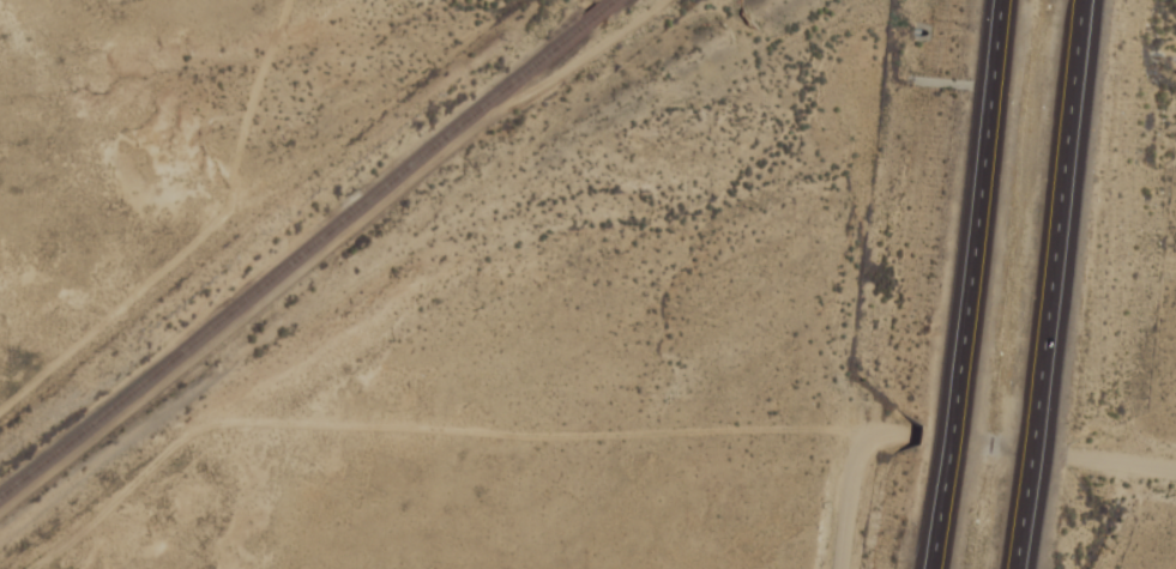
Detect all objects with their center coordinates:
railway: (609, 2)
railway: (596, 13)
railway: (732, 16)
railway: (293, 260)
road: (964, 284)
road: (1053, 284)
quarry: (1163, 322)
road: (1123, 464)
road: (774, 502)
road: (846, 510)

